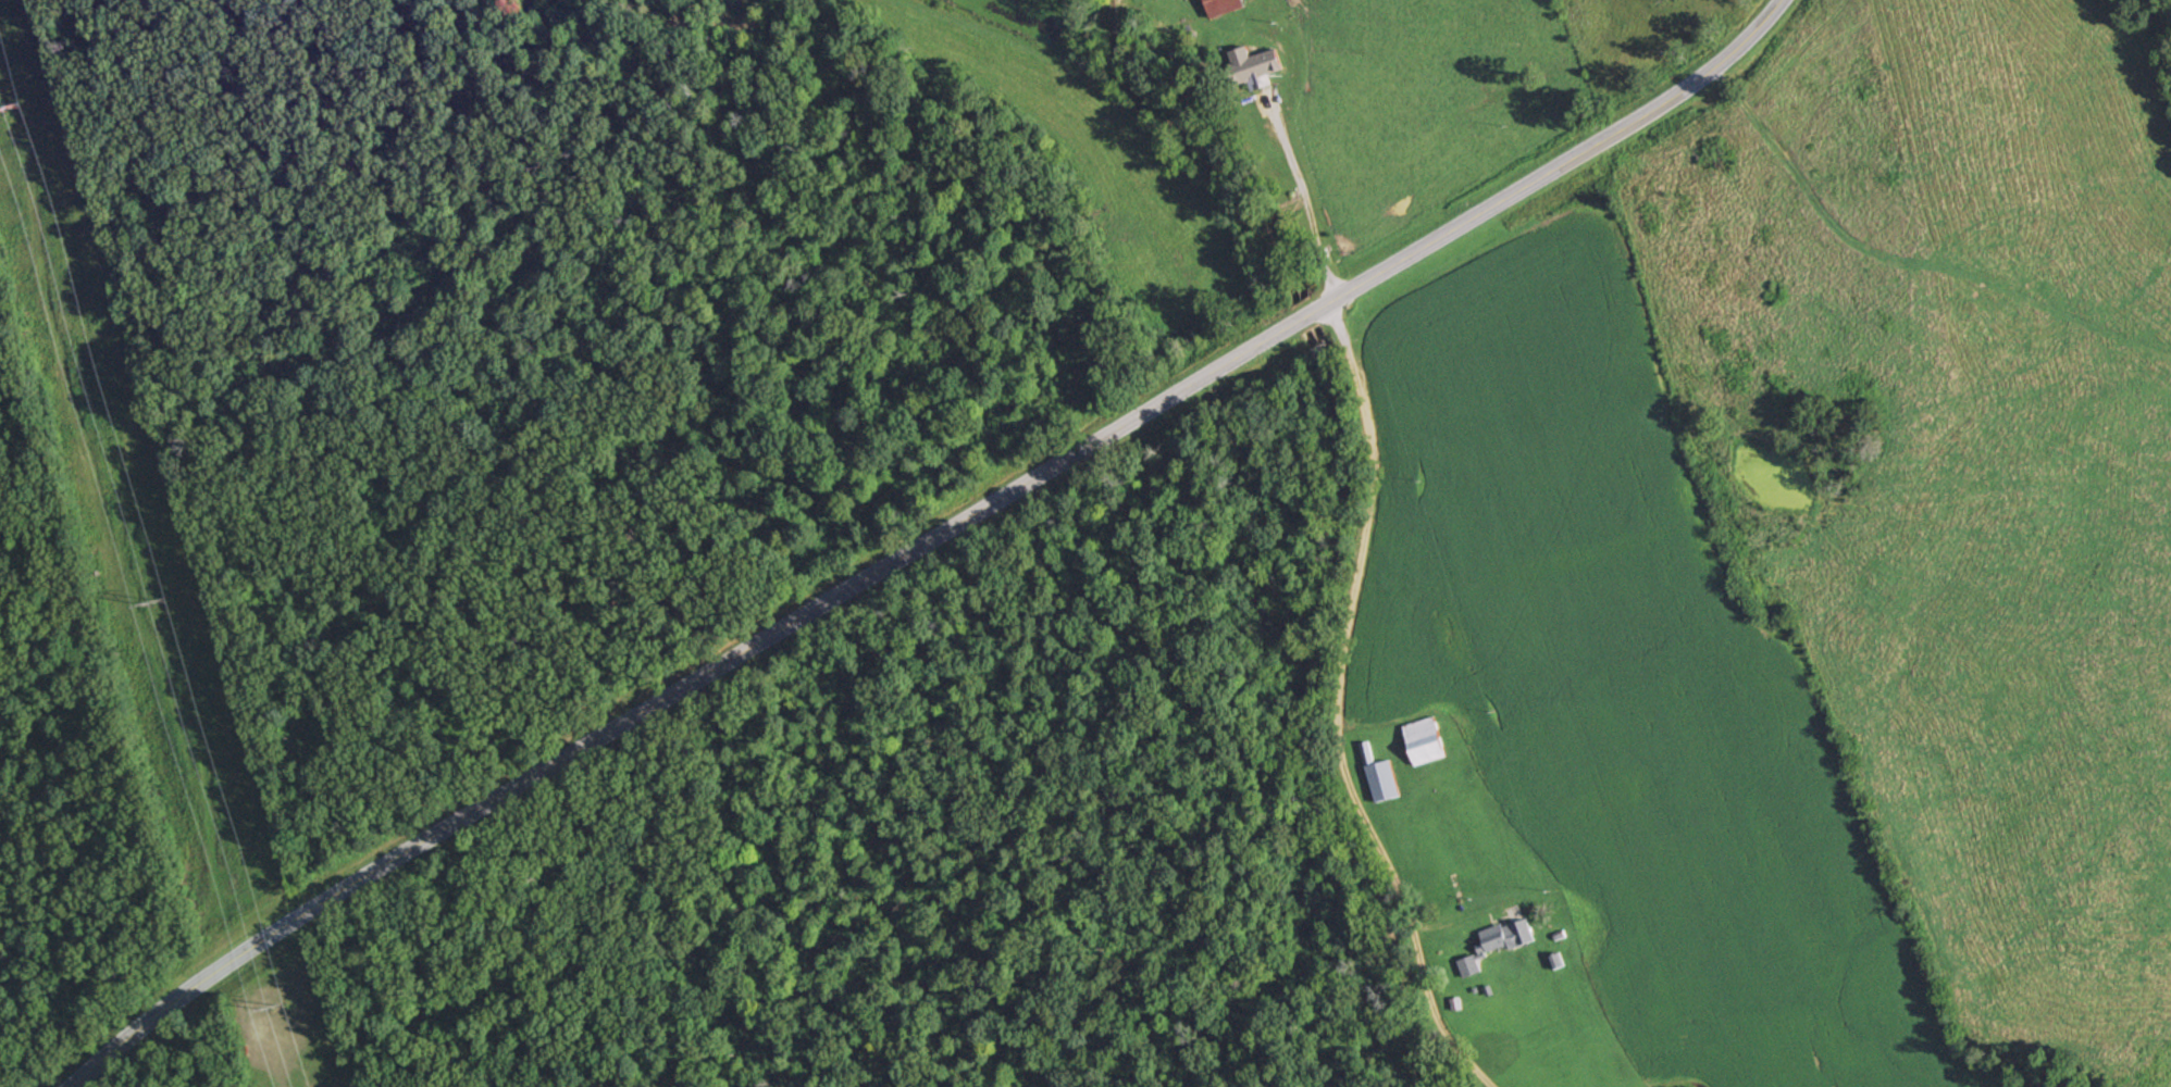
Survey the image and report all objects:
building: (1220, 7)
building: (1252, 64)
power tower: (13, 103)
road: (1300, 190)
road: (922, 540)
power tower: (157, 597)
road: (1338, 709)
building: (1425, 740)
building: (1367, 752)
building: (1384, 780)
building: (1498, 942)
power tower: (275, 1007)

